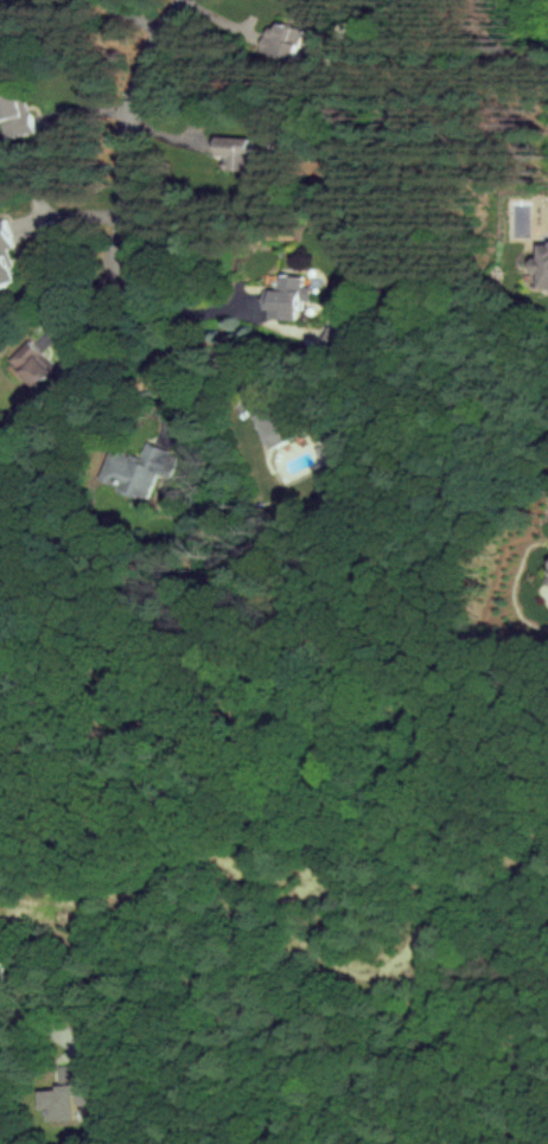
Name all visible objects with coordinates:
road: (134, 13)
building: (280, 41)
building: (15, 115)
road: (126, 126)
building: (235, 153)
building: (6, 256)
building: (540, 264)
building: (283, 298)
road: (193, 330)
road: (154, 344)
building: (36, 364)
building: (270, 428)
building: (139, 469)
building: (546, 576)
building: (65, 1094)

